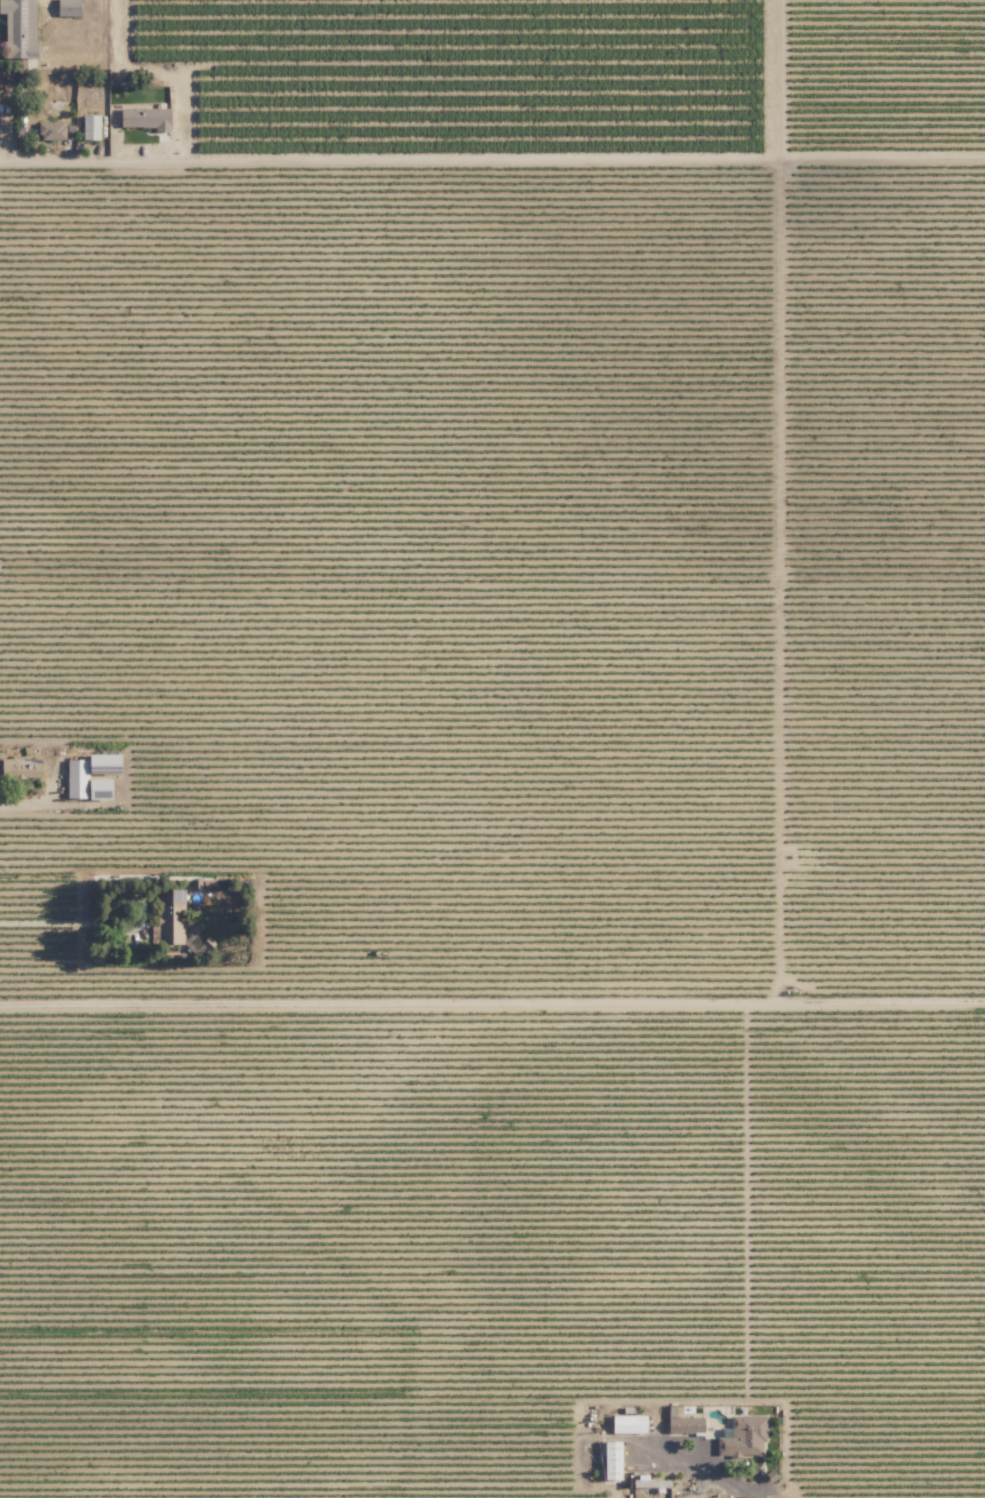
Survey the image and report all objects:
building: (70, 7)
building: (19, 28)
building: (148, 118)
road: (133, 157)
building: (23, 767)
building: (78, 778)
road: (44, 804)
road: (64, 922)
road: (492, 1002)
building: (625, 1422)
road: (700, 1466)

